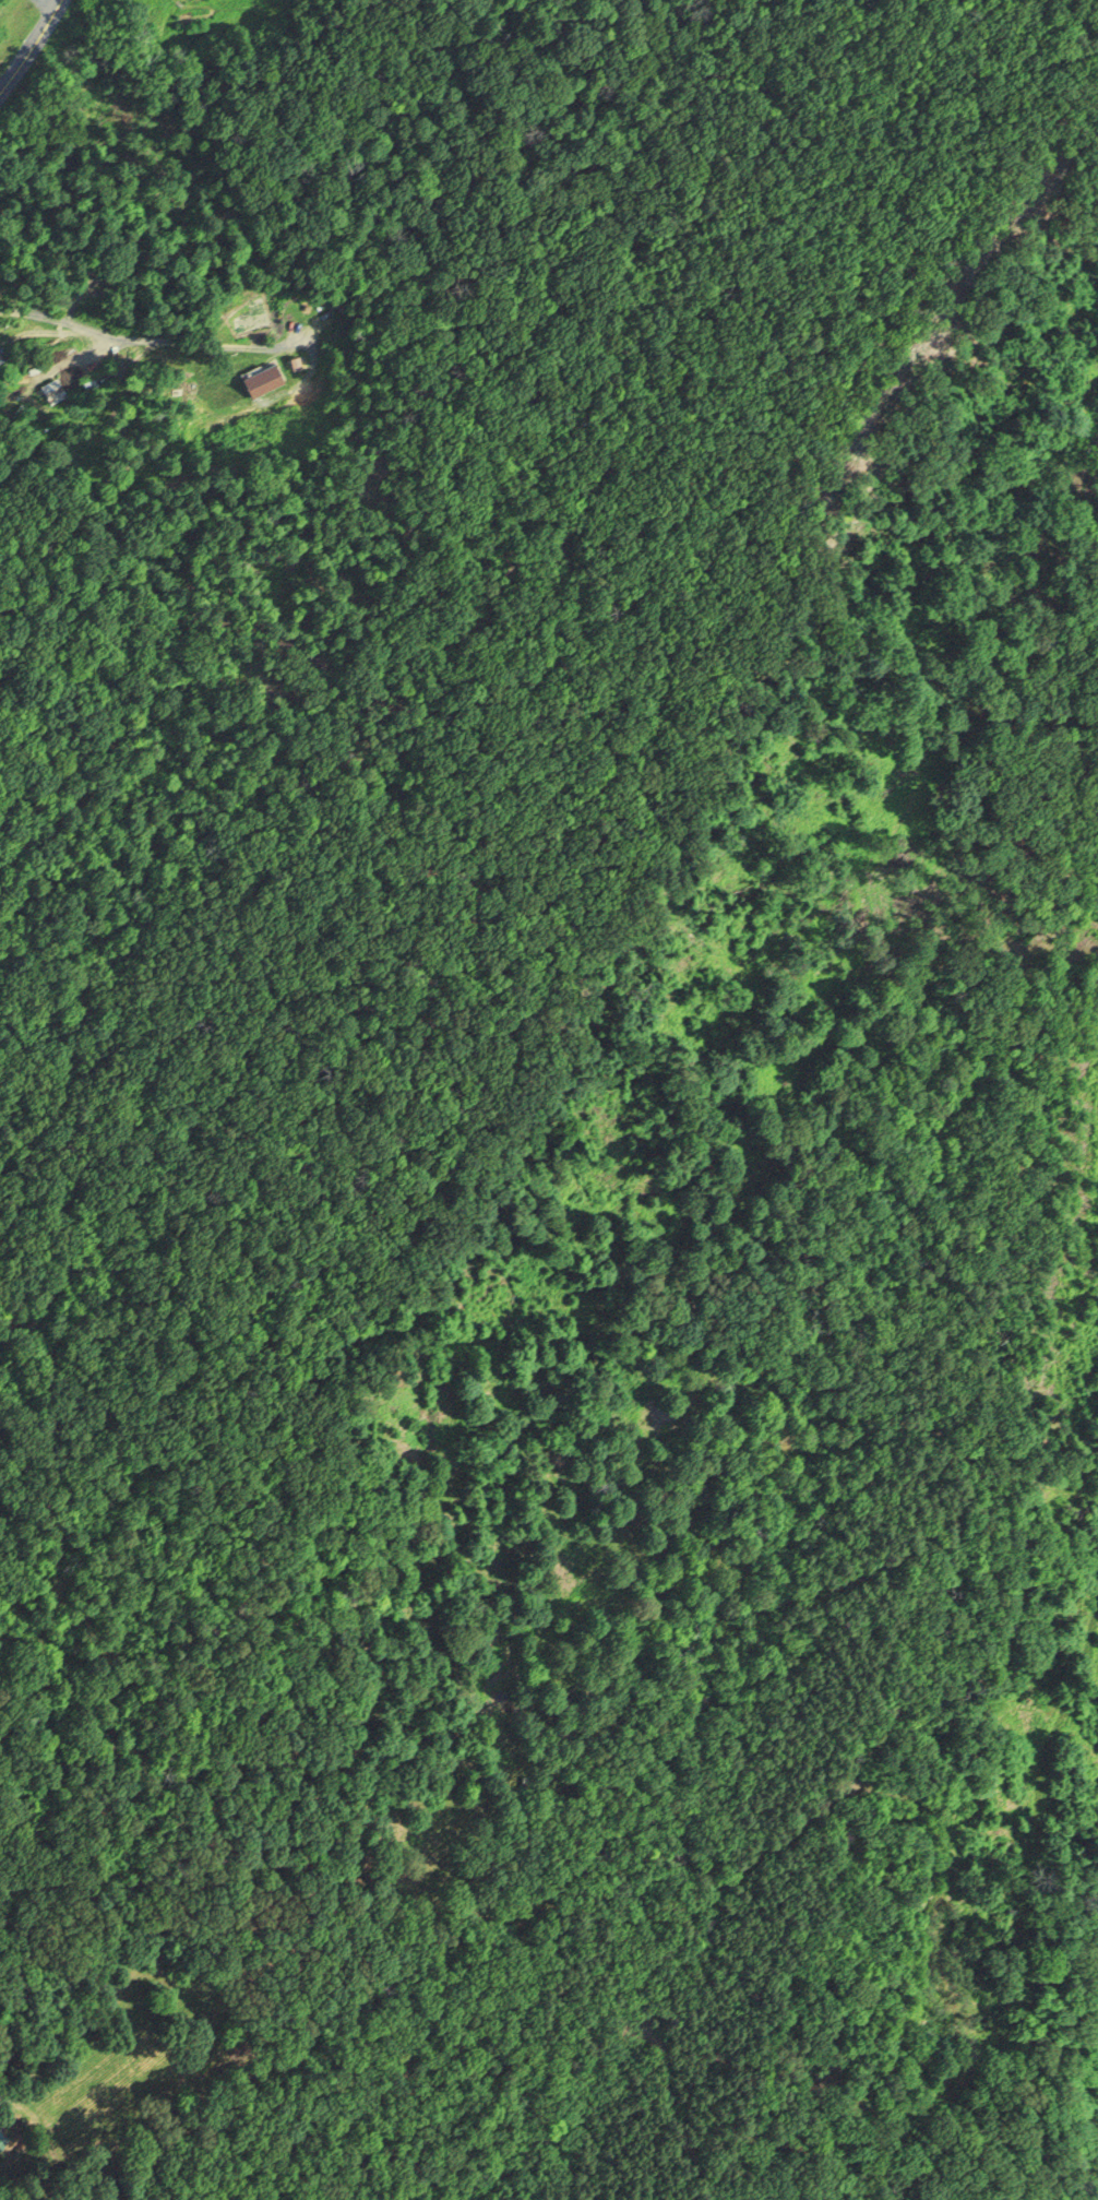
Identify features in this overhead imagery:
road: (32, 38)
road: (150, 346)
building: (1, 356)

